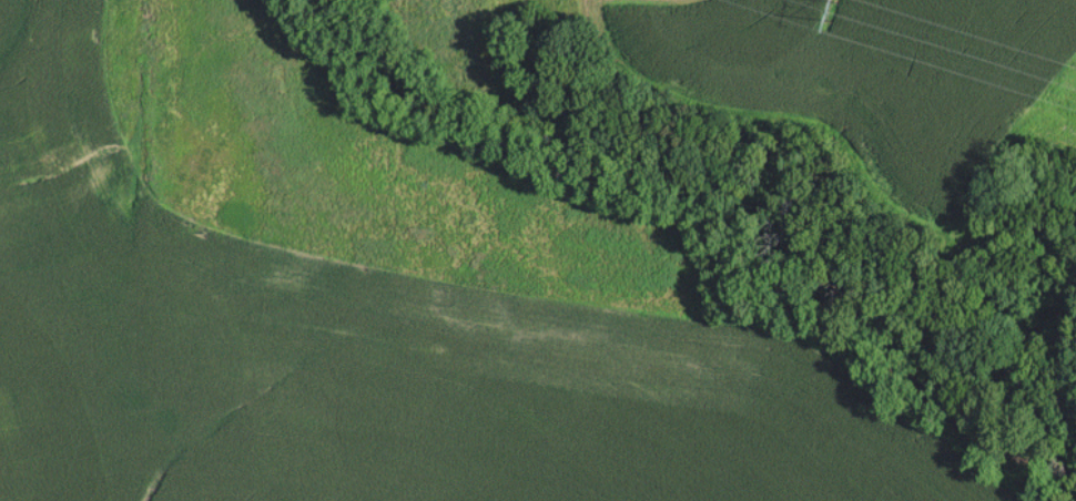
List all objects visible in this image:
power tower: (830, 10)

